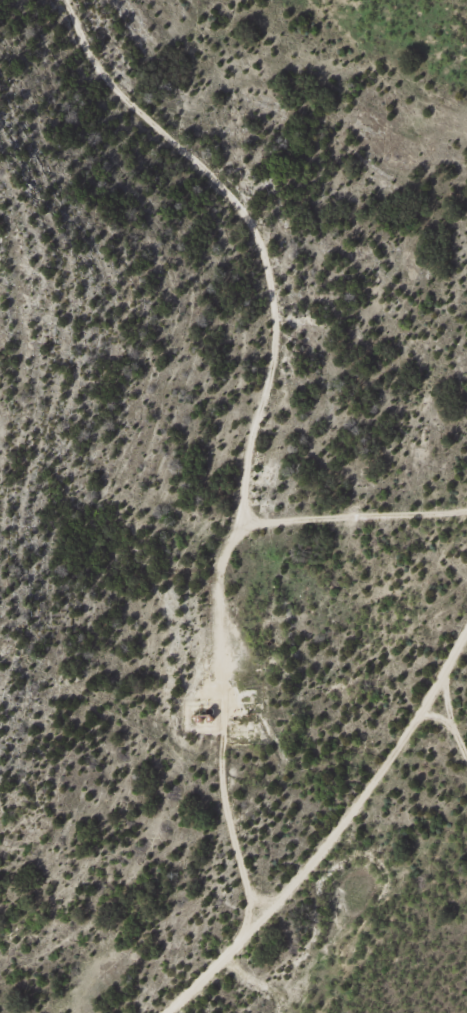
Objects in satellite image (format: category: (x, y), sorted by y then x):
road: (212, 691)
road: (387, 781)

